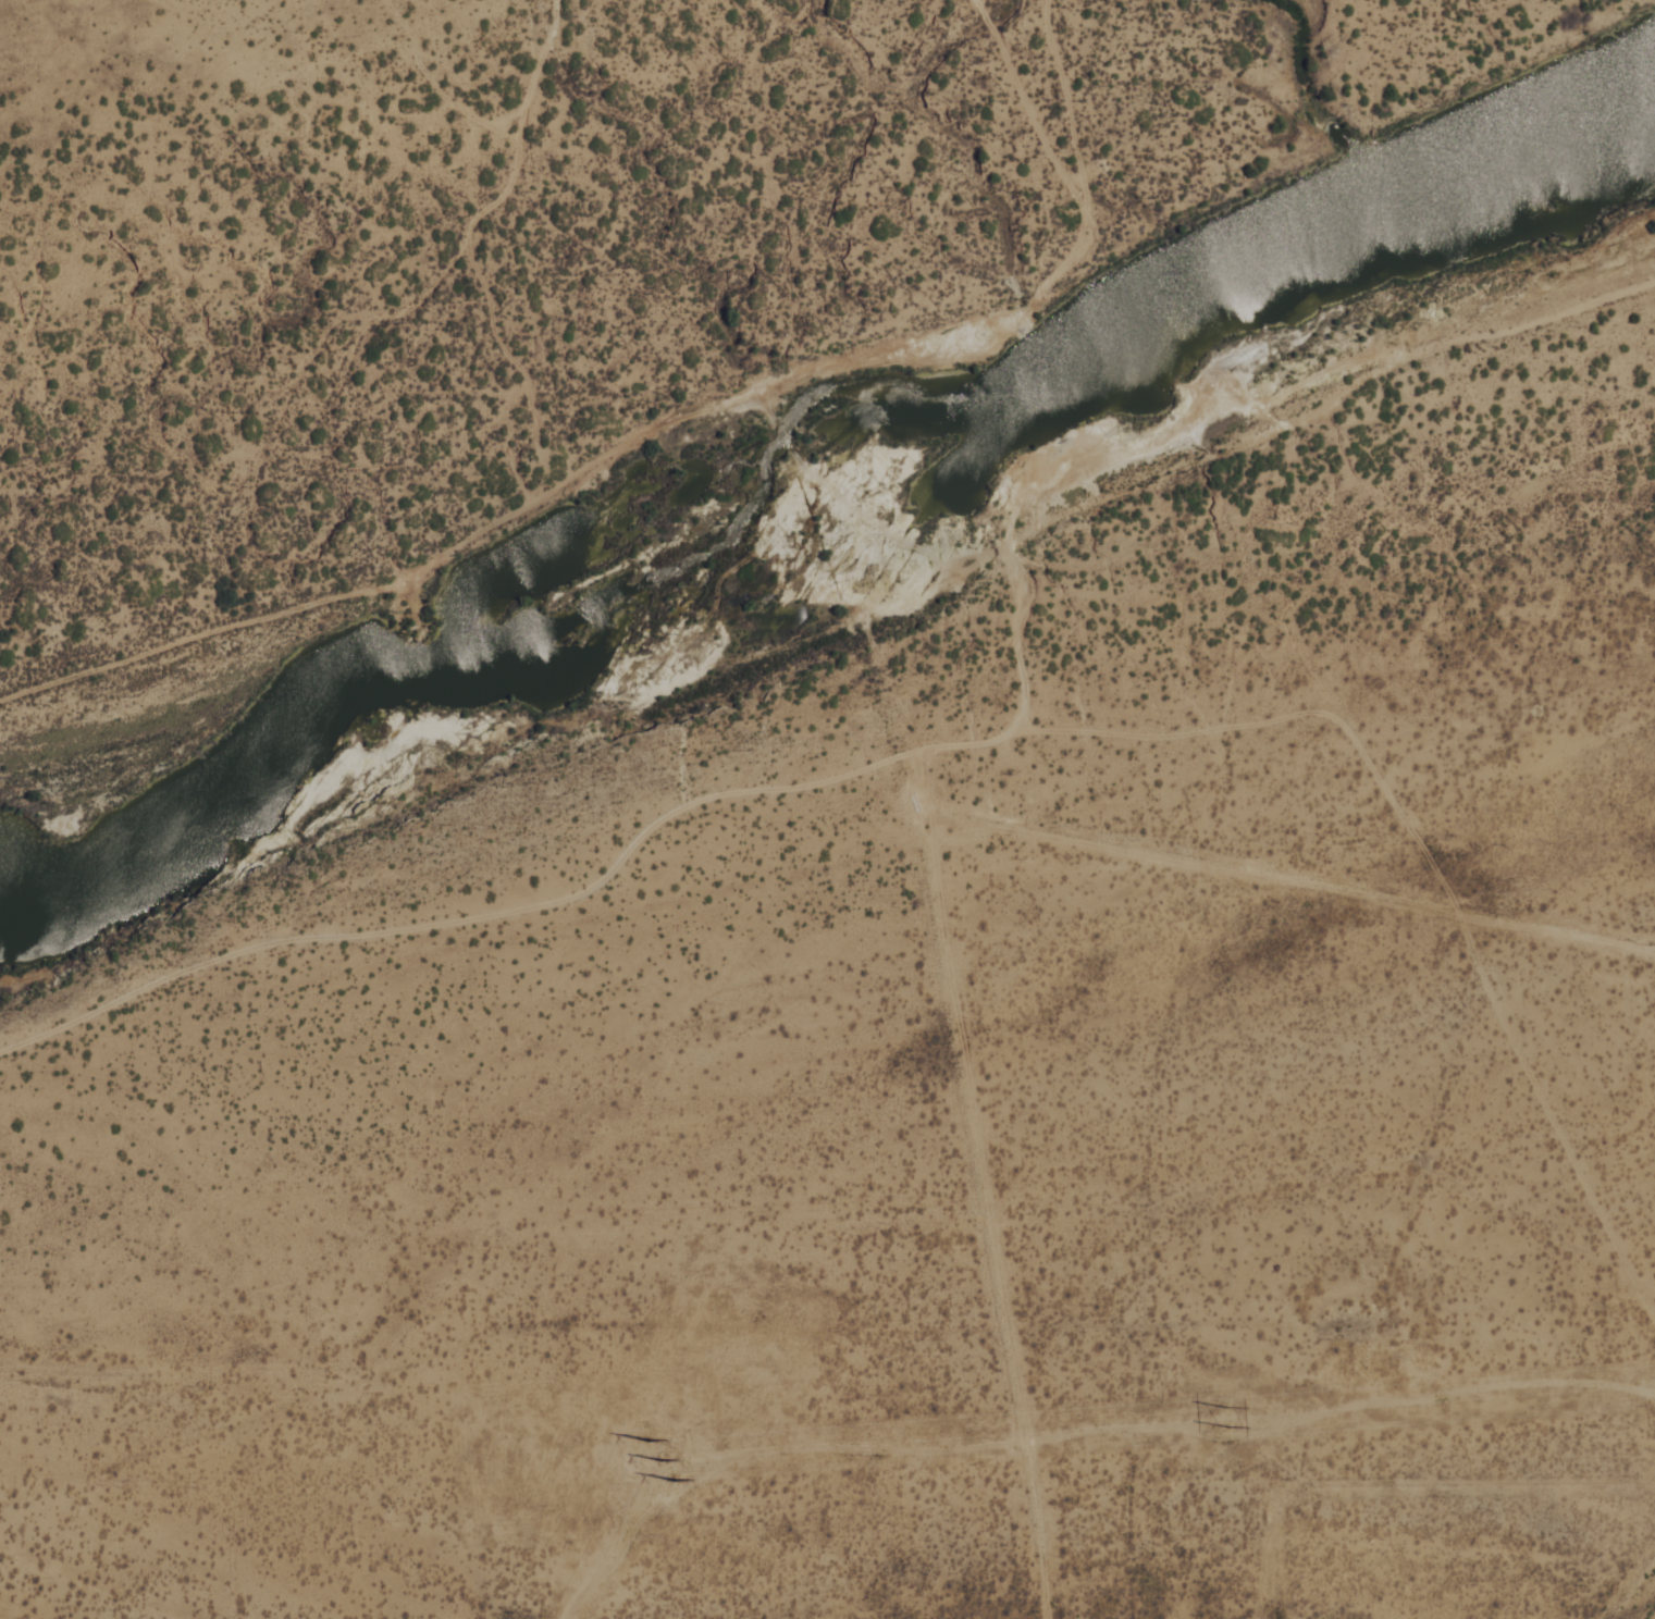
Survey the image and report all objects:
road: (1029, 109)
road: (472, 254)
road: (664, 424)
road: (1238, 446)
river: (822, 485)
road: (1016, 643)
road: (976, 744)
power tower: (1224, 1418)
power tower: (655, 1463)
road: (1643, 1605)

